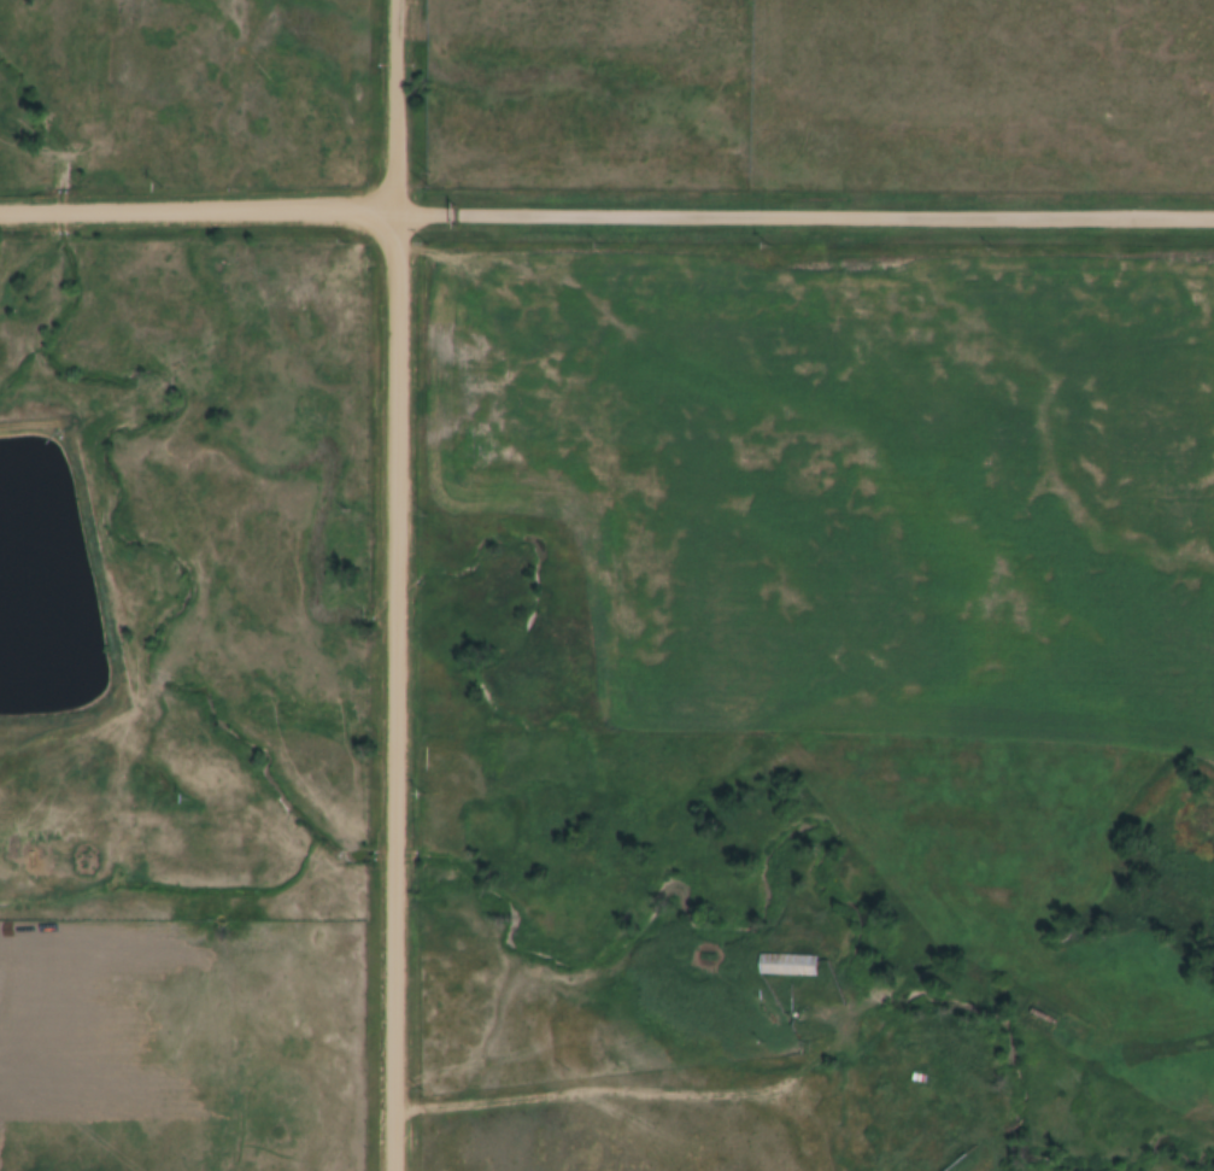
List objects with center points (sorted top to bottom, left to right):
road: (397, 106)
road: (230, 212)
road: (837, 216)
road: (395, 692)
building: (781, 965)

